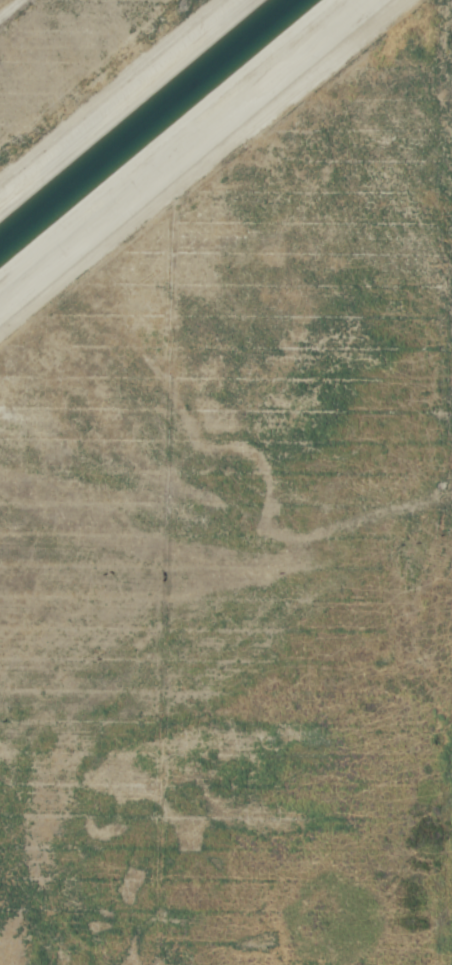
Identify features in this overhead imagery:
crop: (69, 58)

